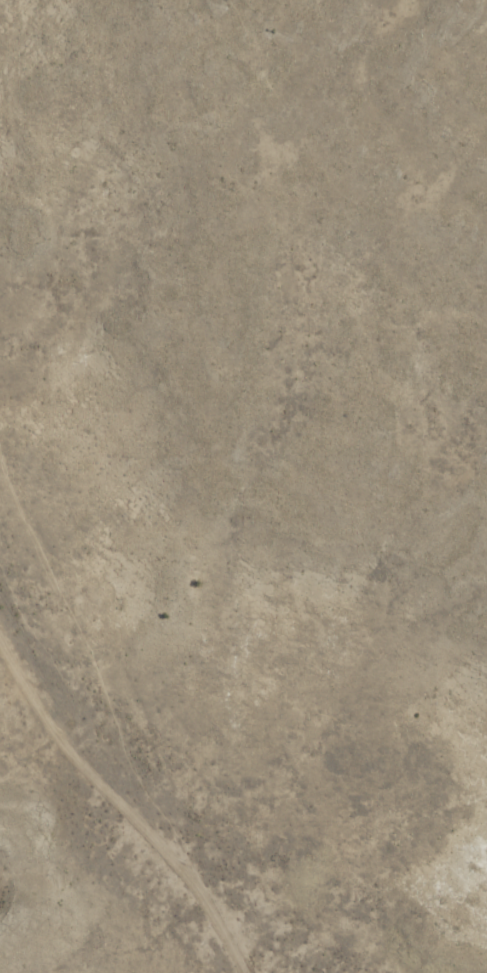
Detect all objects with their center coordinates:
road: (120, 811)

